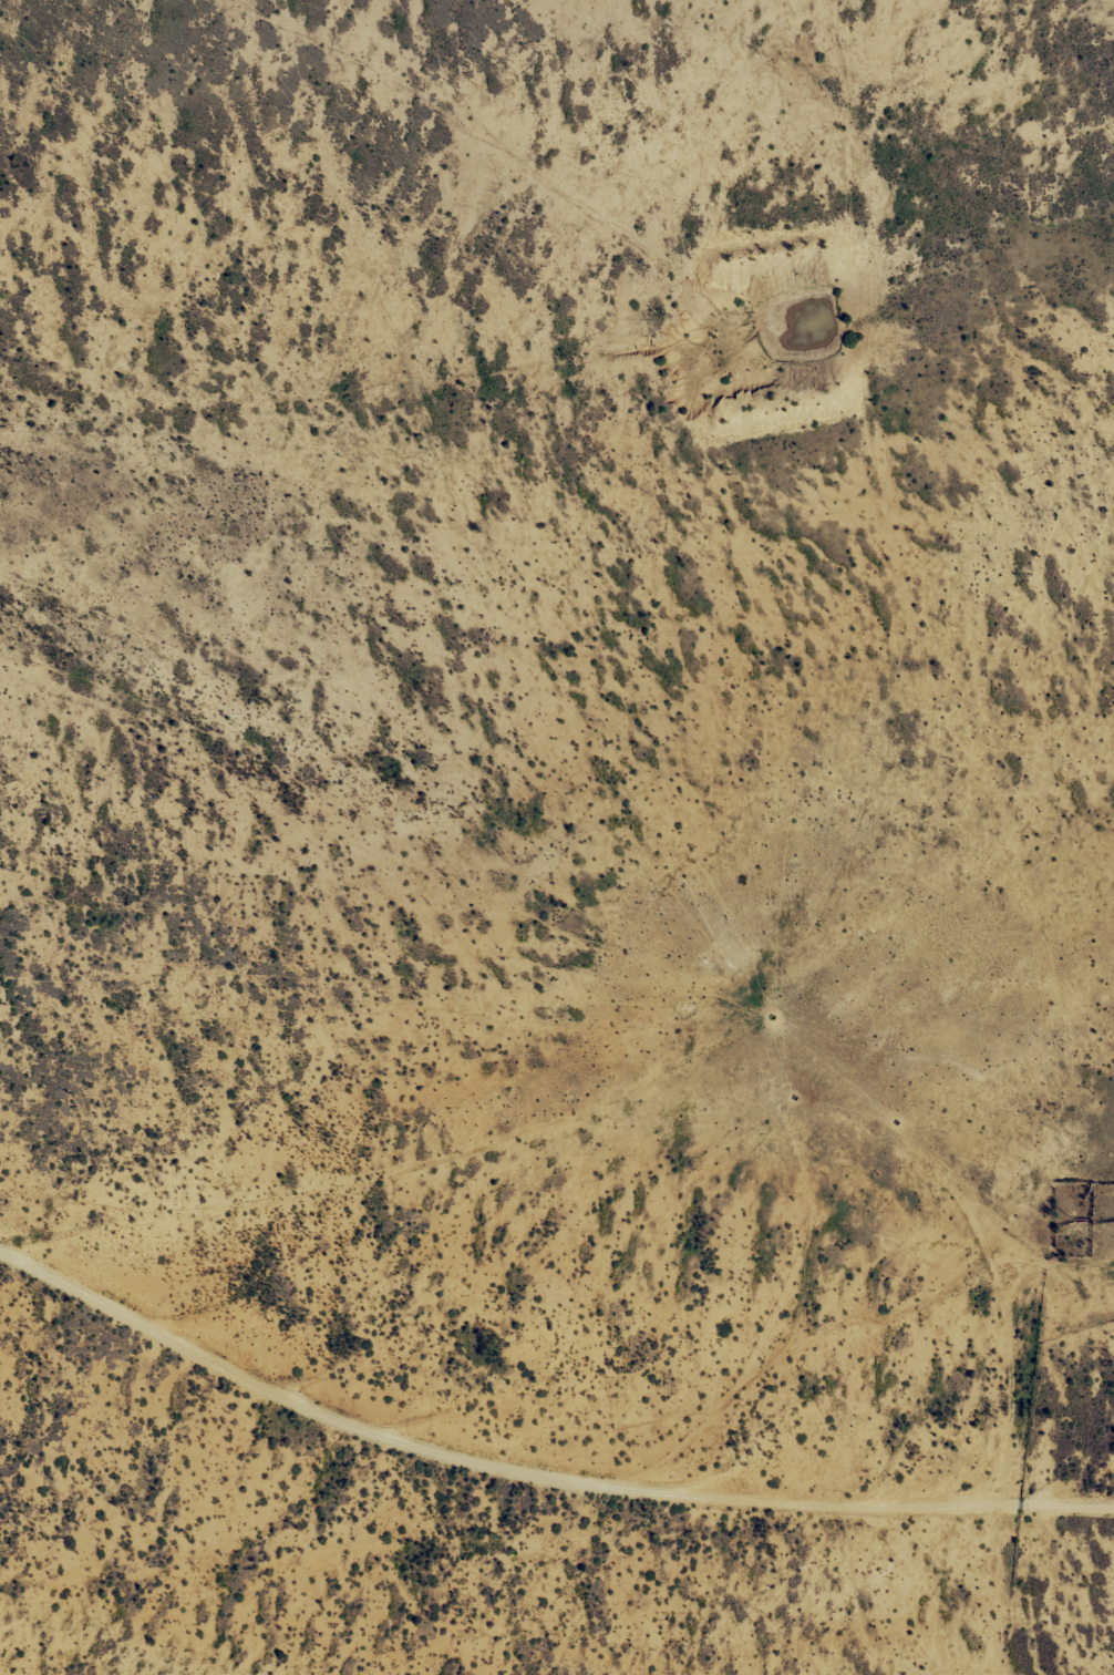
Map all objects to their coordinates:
road: (536, 1466)

